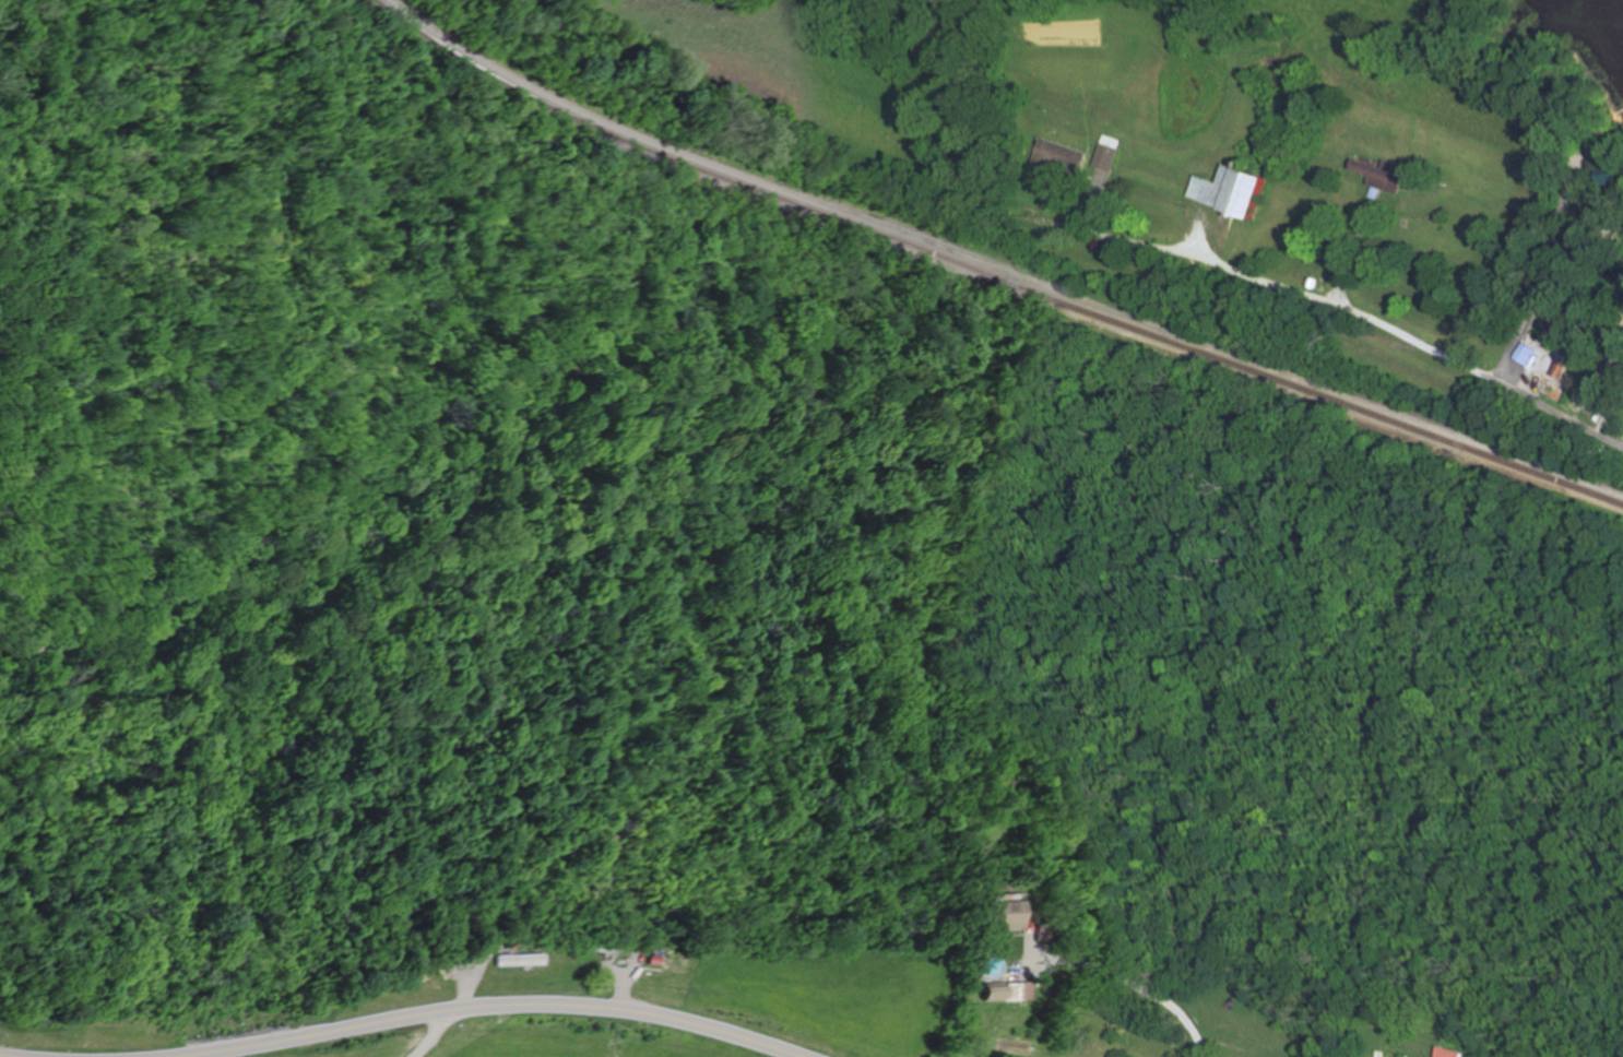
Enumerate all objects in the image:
crop: (1068, 33)
crop: (780, 67)
building: (1590, 142)
building: (1602, 145)
building: (1109, 152)
building: (1062, 158)
silo: (1243, 163)
building: (1615, 173)
building: (1378, 174)
building: (1229, 190)
road: (1092, 199)
road: (1591, 199)
building: (1606, 223)
road: (1199, 235)
road: (60, 248)
road: (1351, 251)
road: (1544, 268)
railway: (983, 271)
building: (1308, 282)
road: (1357, 316)
building: (1561, 320)
building: (1521, 352)
building: (1563, 353)
building: (1615, 356)
building: (1556, 368)
road: (1509, 371)
building: (1603, 404)
road: (1576, 407)
road: (1622, 443)
building: (991, 915)
building: (588, 946)
building: (975, 950)
building: (651, 952)
building: (513, 959)
building: (648, 960)
road: (474, 965)
road: (1015, 967)
building: (428, 971)
road: (614, 971)
road: (1119, 974)
road: (623, 982)
building: (999, 991)
road: (491, 1007)
road: (437, 1033)
building: (1454, 1053)
road: (5, 1056)

